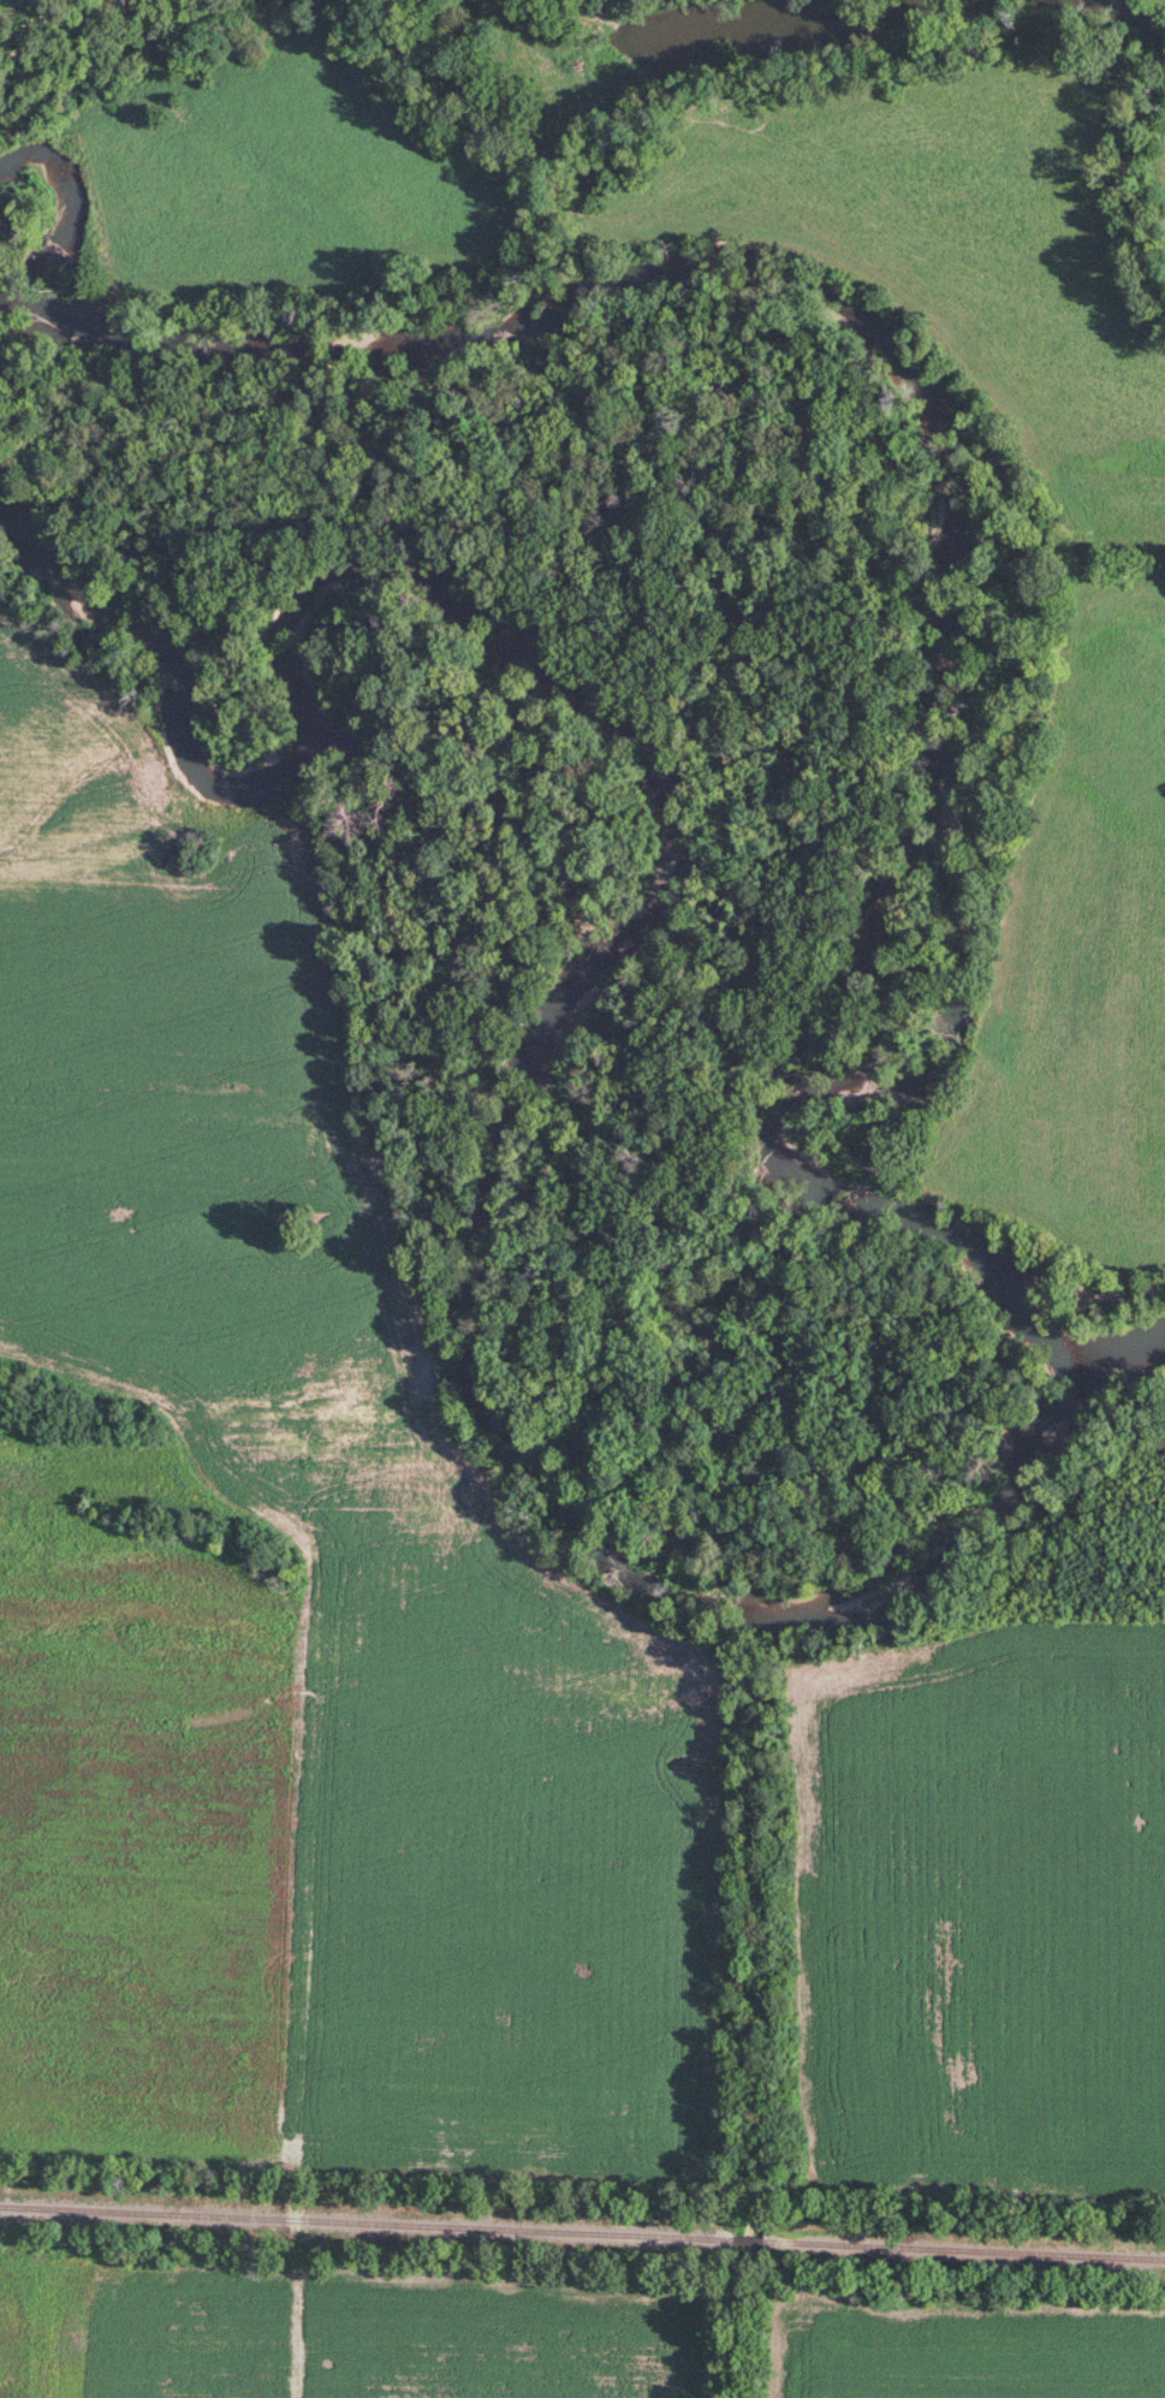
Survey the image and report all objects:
railway: (582, 2232)

